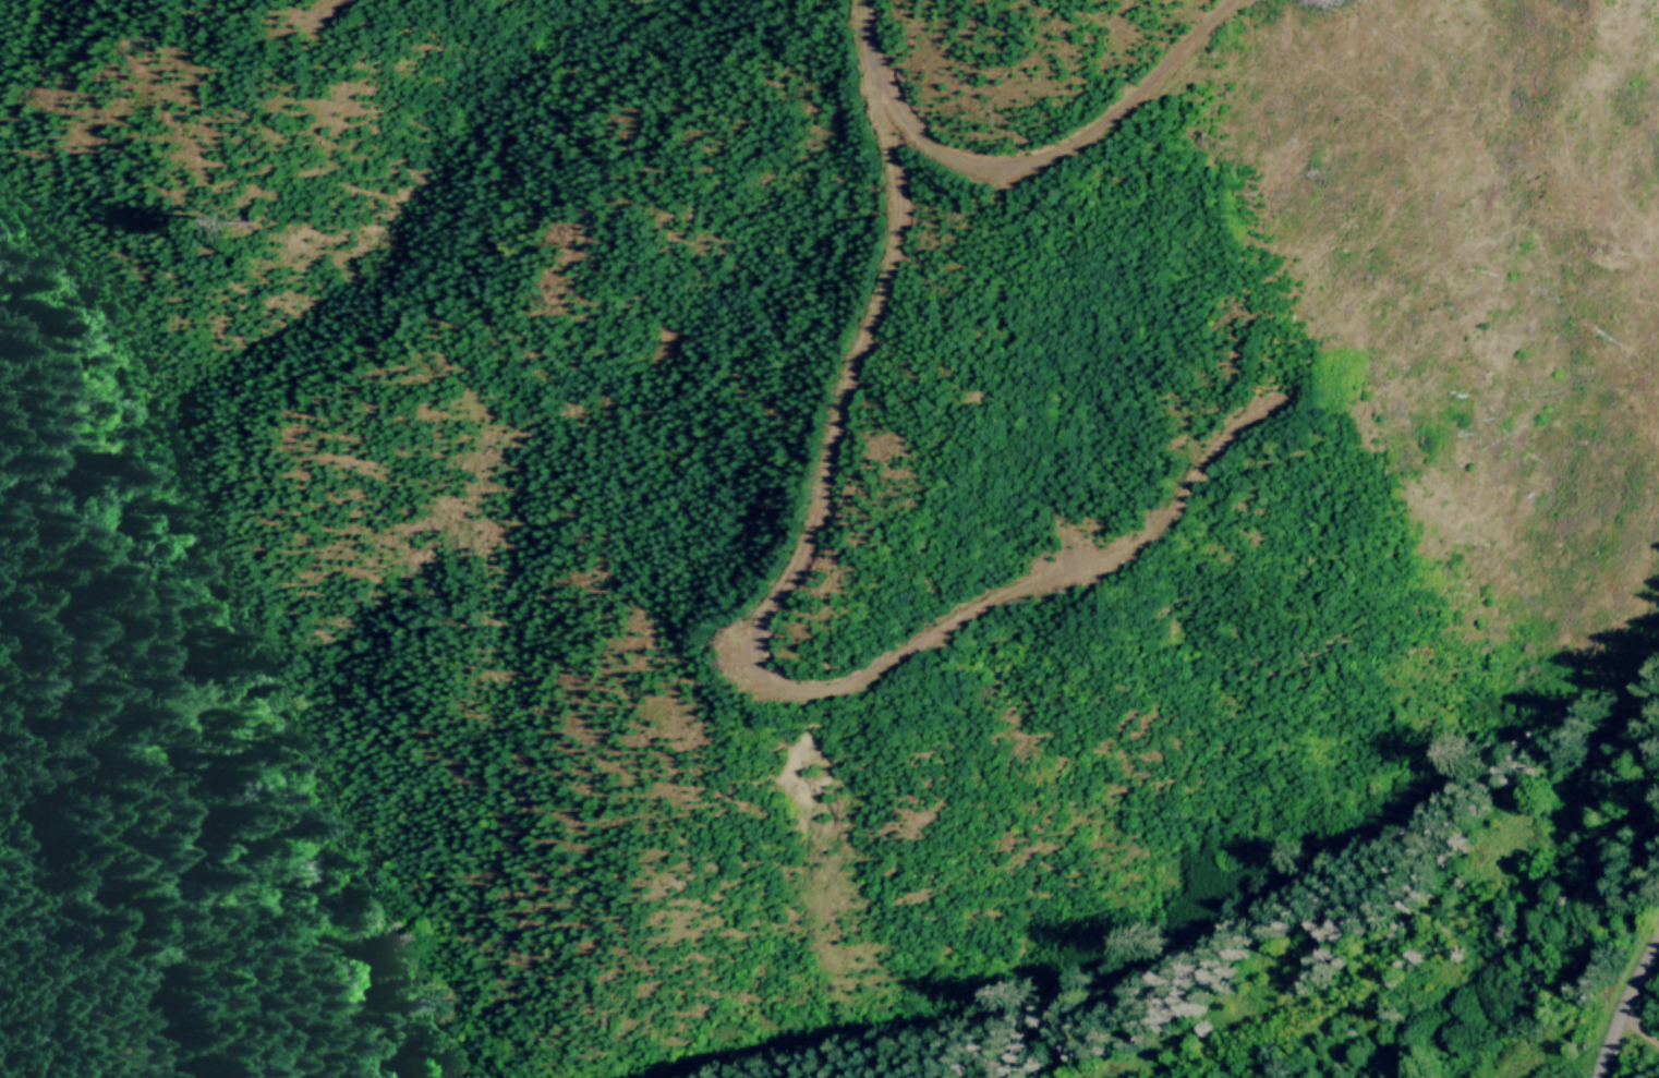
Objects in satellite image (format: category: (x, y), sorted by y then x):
road: (1620, 998)

